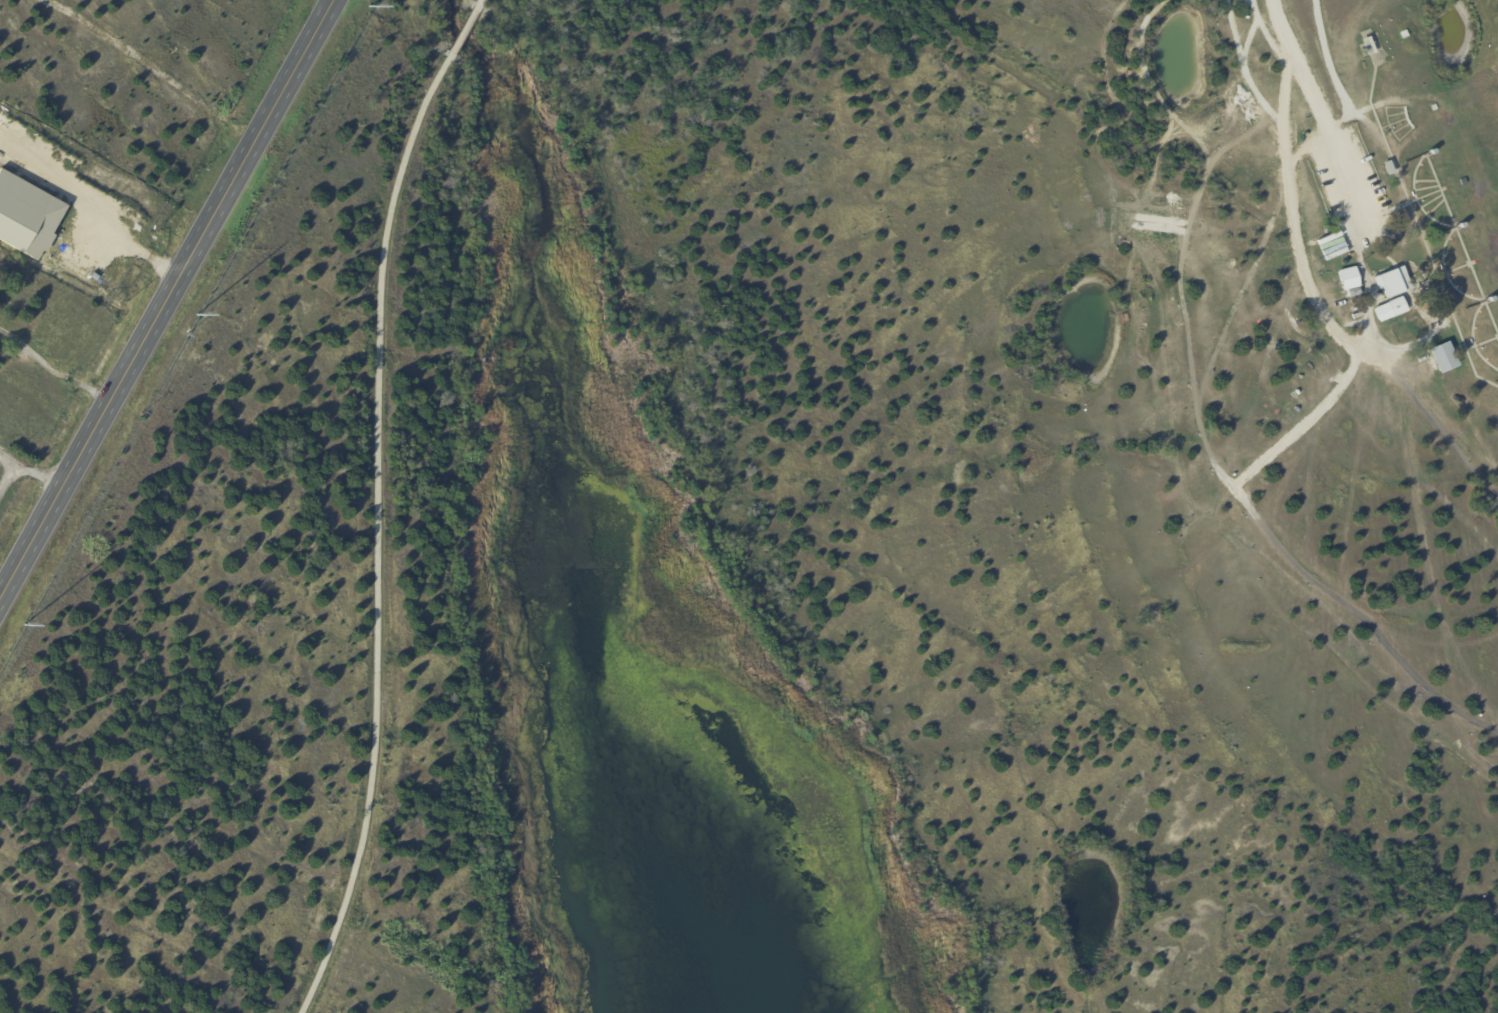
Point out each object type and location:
building: (1366, 47)
road: (1316, 110)
building: (1387, 168)
building: (1351, 280)
building: (1392, 282)
road: (1311, 283)
road: (162, 292)
building: (1353, 293)
building: (1396, 307)
building: (1443, 358)
road: (27, 470)
road: (6, 475)
road: (376, 502)

